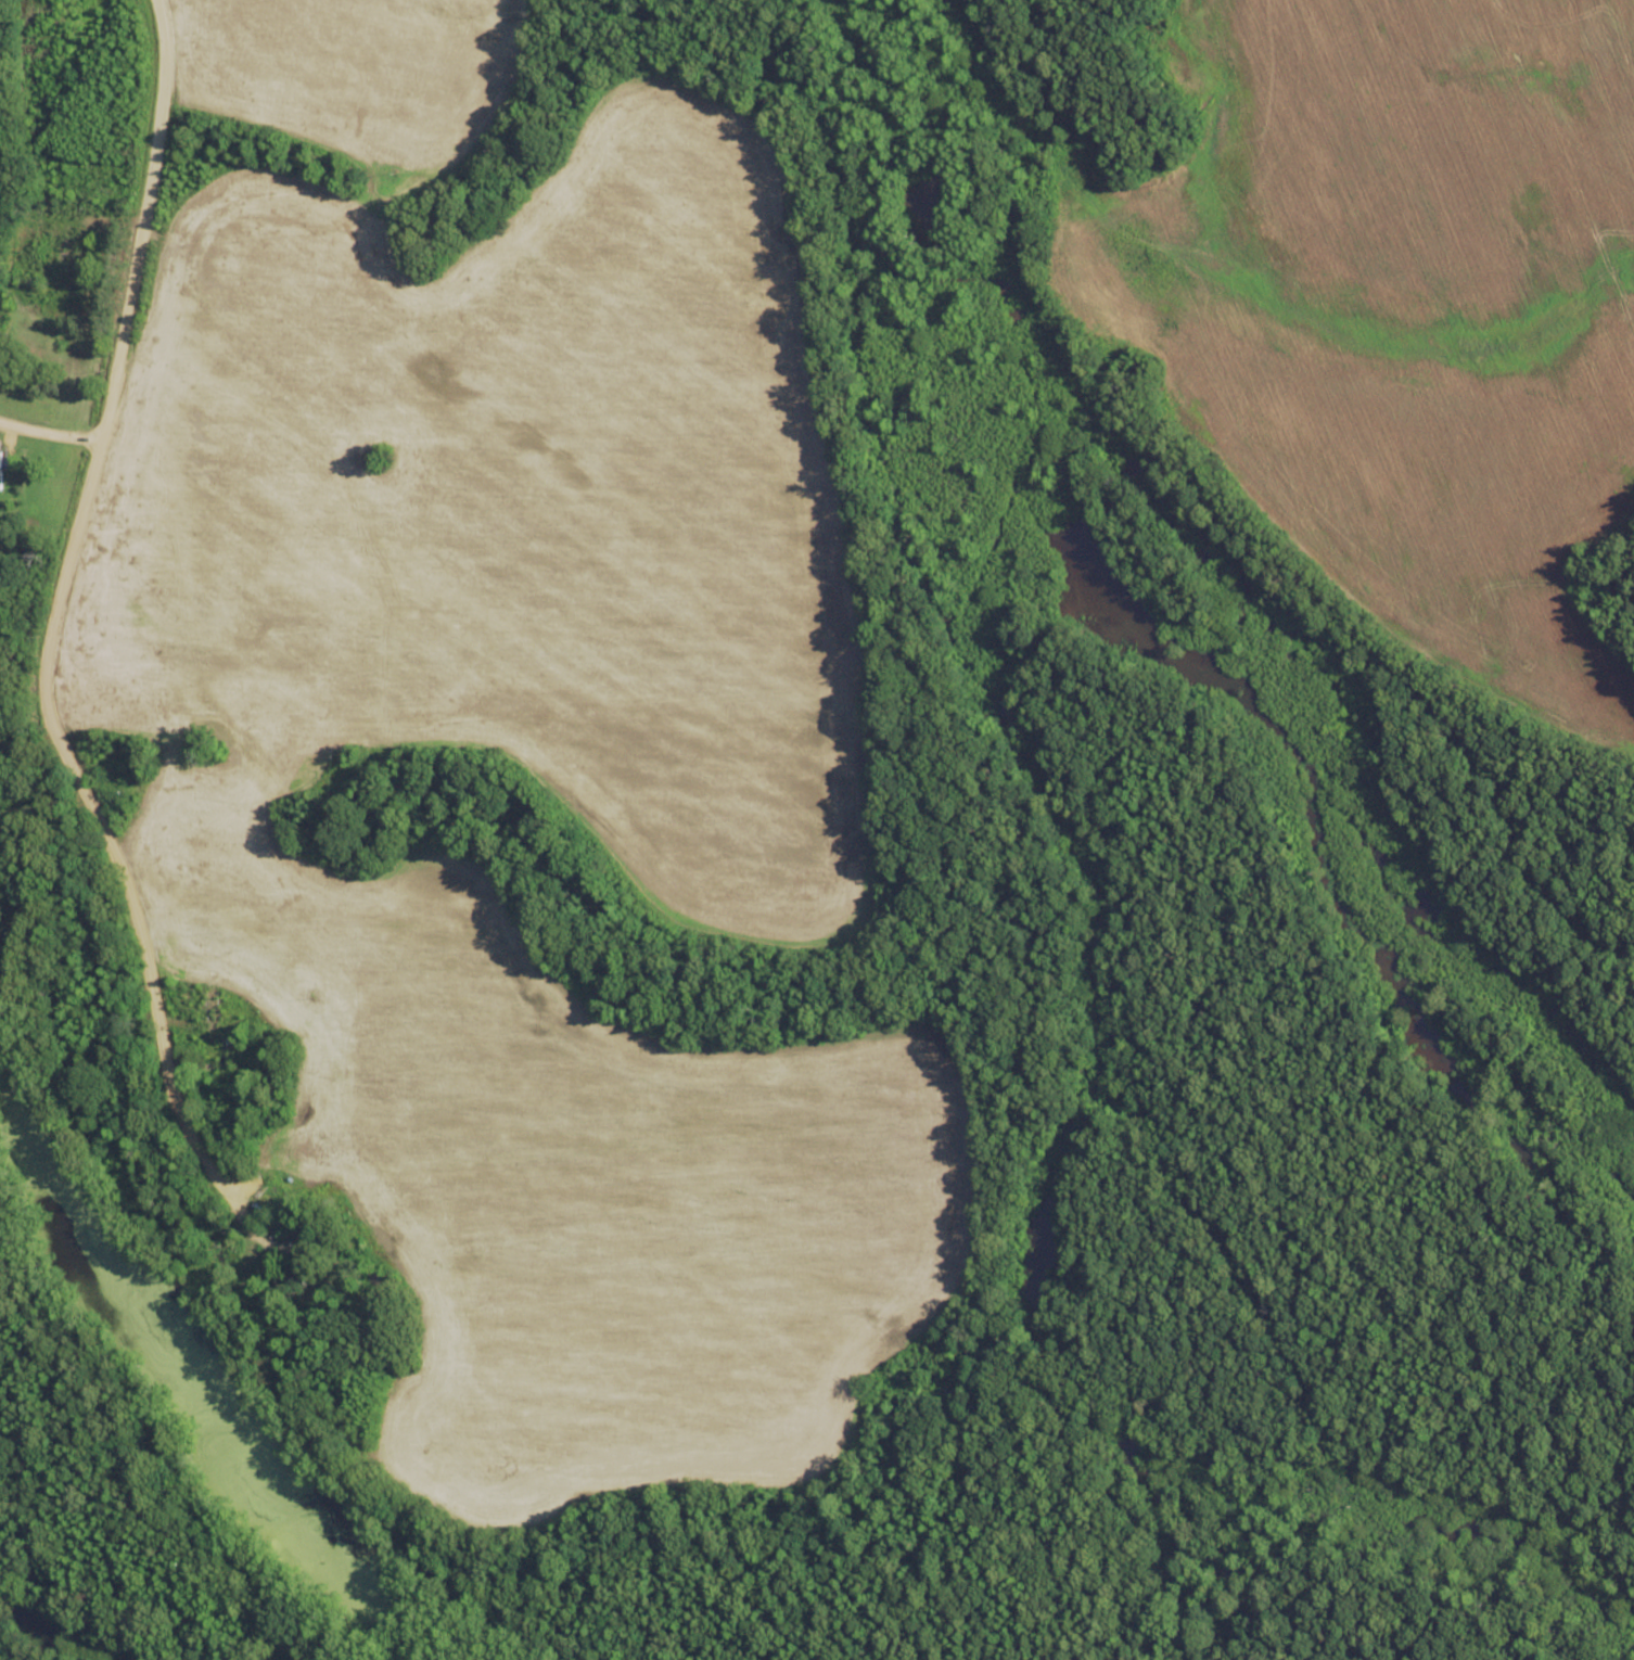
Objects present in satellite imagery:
building: (71, 254)
road: (47, 421)
building: (1, 471)
road: (67, 846)
building: (214, 1011)
building: (230, 1051)
building: (297, 1269)

